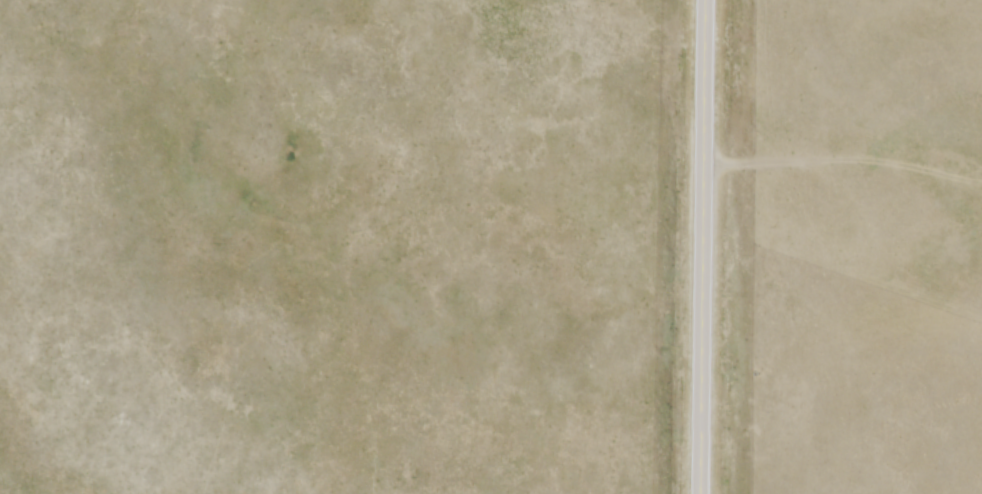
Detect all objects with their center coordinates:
road: (700, 247)

